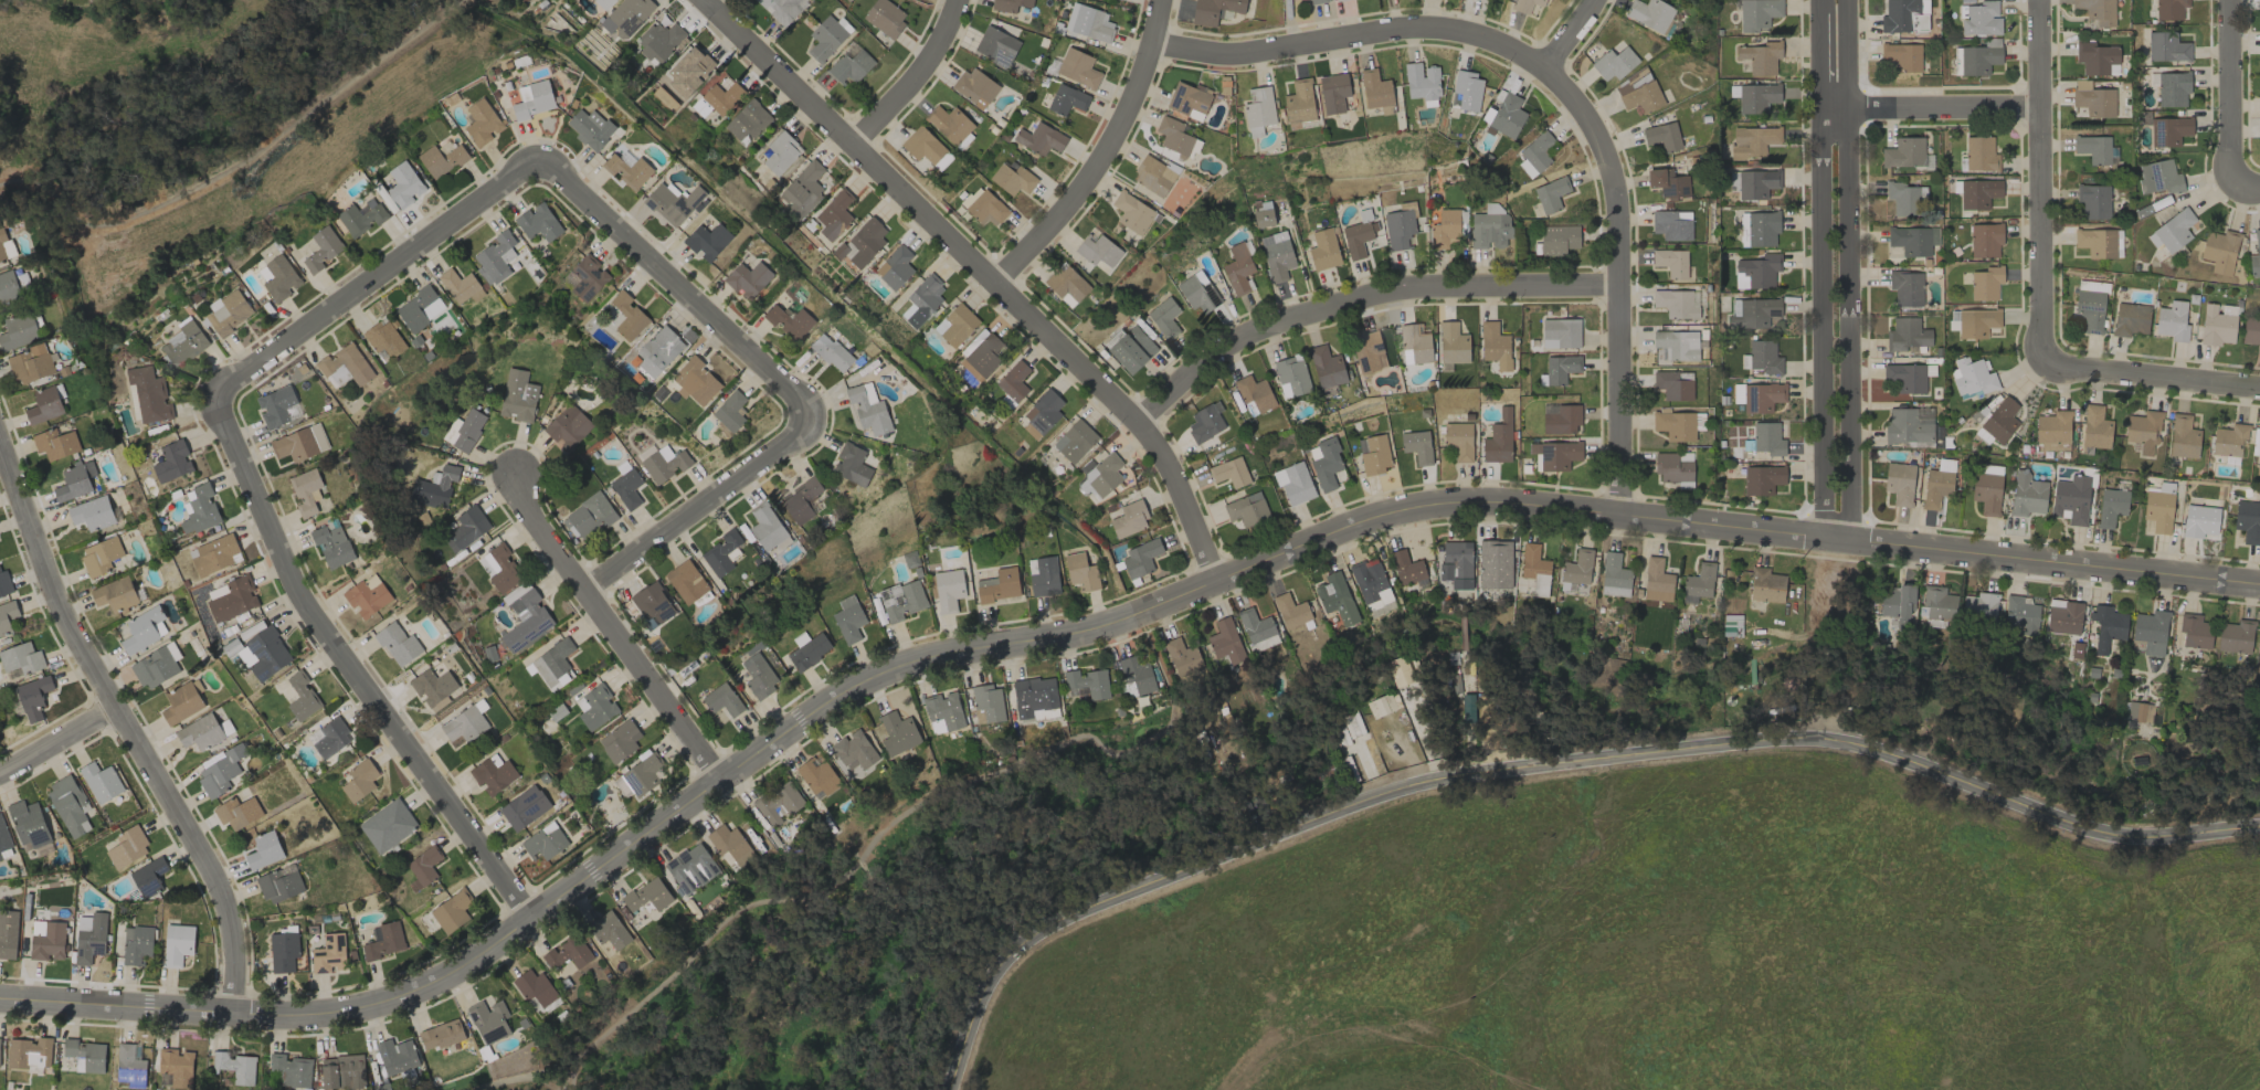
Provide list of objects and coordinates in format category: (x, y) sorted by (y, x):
building: (1340, 0)
building: (1317, 1)
building: (603, 3)
road: (711, 3)
building: (1008, 4)
building: (1525, 4)
building: (782, 9)
building: (2169, 9)
building: (1214, 10)
building: (2097, 11)
building: (1650, 13)
building: (630, 14)
building: (1757, 14)
building: (1898, 14)
building: (885, 17)
building: (1979, 19)
building: (1088, 22)
building: (1918, 22)
building: (827, 36)
road: (1351, 39)
building: (658, 41)
building: (996, 45)
building: (2166, 47)
building: (1902, 55)
building: (1761, 57)
building: (1979, 57)
building: (2094, 57)
building: (1614, 63)
building: (851, 66)
building: (1078, 68)
building: (686, 73)
road: (912, 78)
building: (974, 87)
building: (2171, 88)
building: (1375, 89)
building: (1467, 89)
building: (1333, 92)
building: (1638, 92)
building: (720, 93)
road: (2233, 93)
building: (1754, 97)
building: (532, 99)
building: (1067, 99)
building: (1189, 99)
building: (2092, 99)
building: (1299, 104)
road: (1930, 107)
building: (1258, 110)
building: (1504, 115)
park: (200, 117)
building: (747, 120)
building: (480, 121)
building: (949, 124)
building: (590, 128)
building: (2168, 130)
building: (1173, 136)
building: (1662, 136)
building: (1039, 138)
building: (1752, 141)
building: (926, 148)
building: (2093, 148)
building: (780, 152)
road: (1100, 152)
building: (1905, 154)
building: (1979, 154)
building: (1535, 155)
building: (441, 159)
road: (240, 161)
building: (627, 170)
building: (1153, 176)
road: (2040, 176)
building: (2158, 177)
building: (1012, 179)
building: (1668, 183)
building: (1753, 183)
building: (403, 184)
road: (2248, 186)
building: (803, 189)
building: (1978, 193)
building: (1550, 194)
building: (1903, 198)
building: (2093, 201)
building: (672, 202)
building: (986, 209)
building: (1132, 212)
building: (1263, 213)
building: (833, 214)
building: (360, 218)
building: (538, 222)
building: (1671, 224)
building: (1398, 227)
building: (1762, 227)
building: (1490, 230)
building: (2173, 231)
building: (1358, 235)
road: (1616, 237)
building: (1557, 239)
building: (1913, 240)
building: (707, 241)
building: (1985, 241)
building: (863, 242)
building: (2095, 242)
building: (6, 245)
building: (321, 248)
building: (1323, 248)
building: (1098, 251)
building: (2219, 251)
building: (1277, 255)
building: (2254, 256)
building: (495, 257)
building: (1671, 262)
road: (395, 266)
building: (895, 267)
building: (1237, 268)
road: (984, 269)
road: (1821, 272)
building: (1755, 273)
road: (1851, 273)
building: (585, 277)
building: (279, 278)
building: (747, 278)
building: (23, 282)
building: (1067, 283)
building: (1985, 283)
building: (460, 286)
building: (8, 287)
building: (1905, 287)
building: (1197, 292)
building: (921, 300)
road: (1360, 303)
building: (1675, 304)
building: (2090, 305)
building: (419, 308)
building: (228, 311)
building: (1752, 311)
building: (627, 316)
building: (1164, 317)
building: (2130, 319)
building: (789, 320)
building: (1973, 321)
building: (2172, 321)
building: (955, 325)
building: (2216, 326)
building: (19, 331)
building: (2251, 331)
building: (1560, 332)
building: (1907, 335)
building: (383, 338)
building: (182, 343)
building: (1451, 343)
building: (1415, 345)
building: (1495, 346)
building: (1675, 346)
building: (1131, 349)
building: (658, 351)
building: (1369, 351)
building: (831, 352)
building: (982, 353)
building: (1764, 357)
building: (31, 363)
building: (346, 363)
building: (1327, 367)
building: (1559, 369)
road: (2150, 373)
building: (1291, 375)
building: (1907, 377)
building: (1972, 378)
building: (696, 381)
building: (1013, 381)
building: (1673, 384)
building: (1255, 393)
building: (149, 394)
building: (517, 395)
building: (1759, 396)
building: (44, 405)
building: (275, 405)
building: (868, 409)
building: (730, 411)
building: (1043, 411)
building: (1562, 420)
building: (1205, 422)
building: (1998, 422)
building: (1675, 425)
building: (1909, 425)
building: (568, 426)
building: (2094, 427)
building: (467, 430)
building: (2143, 430)
building: (2053, 431)
building: (2183, 436)
building: (1498, 438)
building: (1767, 438)
building: (1459, 440)
building: (2229, 440)
building: (1075, 441)
building: (55, 443)
building: (299, 443)
building: (1417, 445)
building: (2258, 453)
building: (1373, 454)
building: (1555, 455)
building: (172, 461)
building: (664, 463)
building: (851, 464)
building: (1327, 464)
building: (1673, 468)
building: (1989, 468)
building: (1229, 472)
building: (1101, 474)
building: (1762, 479)
building: (74, 480)
building: (1293, 483)
building: (1899, 483)
building: (1937, 484)
building: (439, 486)
building: (626, 488)
building: (306, 491)
building: (1986, 493)
building: (2027, 495)
building: (2070, 499)
building: (801, 500)
building: (2111, 506)
building: (199, 509)
building: (1246, 509)
building: (2158, 511)
building: (92, 512)
building: (588, 516)
building: (1129, 519)
building: (2200, 521)
building: (2248, 521)
road: (1731, 526)
building: (765, 527)
building: (466, 528)
building: (331, 546)
building: (722, 552)
building: (214, 554)
building: (99, 555)
building: (1140, 559)
building: (1456, 563)
building: (1495, 564)
building: (500, 568)
building: (1406, 568)
building: (1534, 568)
building: (1576, 569)
building: (1080, 571)
building: (1043, 575)
building: (1614, 576)
building: (686, 581)
building: (1370, 581)
building: (1657, 581)
building: (3, 582)
building: (1699, 583)
building: (999, 585)
building: (1766, 585)
building: (948, 590)
building: (115, 594)
building: (367, 595)
building: (1335, 597)
building: (232, 599)
building: (901, 600)
building: (1935, 602)
building: (653, 604)
building: (1897, 604)
building: (1979, 605)
building: (1290, 611)
building: (2019, 614)
building: (7, 615)
building: (2063, 616)
building: (524, 617)
building: (848, 618)
building: (141, 629)
road: (610, 631)
building: (2194, 631)
building: (2151, 632)
building: (2235, 636)
building: (1225, 641)
building: (398, 644)
building: (807, 649)
building: (264, 653)
building: (21, 658)
building: (1184, 662)
building: (552, 665)
building: (156, 666)
building: (1398, 670)
building: (758, 676)
building: (1137, 676)
building: (1085, 685)
building: (433, 687)
building: (1033, 696)
building: (32, 697)
building: (721, 699)
building: (182, 701)
building: (988, 703)
building: (1381, 705)
building: (596, 707)
building: (943, 709)
building: (2136, 713)
building: (465, 724)
road: (128, 731)
building: (200, 732)
building: (897, 732)
building: (329, 737)
building: (619, 741)
road: (57, 742)
building: (854, 750)
road: (1553, 766)
building: (220, 771)
building: (493, 773)
building: (642, 774)
building: (816, 776)
building: (359, 780)
building: (101, 782)
building: (621, 786)
building: (778, 801)
building: (68, 805)
building: (520, 811)
building: (237, 812)
road: (889, 822)
building: (387, 825)
building: (30, 826)
building: (3, 837)
building: (545, 842)
building: (729, 846)
building: (127, 847)
building: (264, 850)
road: (622, 856)
building: (423, 865)
building: (690, 868)
building: (148, 876)
building: (279, 883)
building: (647, 895)
building: (451, 911)
park: (902, 923)
building: (609, 930)
building: (8, 933)
building: (91, 939)
building: (384, 941)
building: (47, 942)
building: (177, 943)
building: (136, 944)
building: (283, 951)
building: (567, 952)
building: (328, 953)
building: (535, 987)
building: (488, 1019)
building: (441, 1034)
building: (29, 1052)
building: (86, 1054)
building: (397, 1056)
building: (129, 1066)
building: (176, 1066)
building: (235, 1067)
building: (292, 1069)
building: (342, 1071)
road: (519, 1078)

